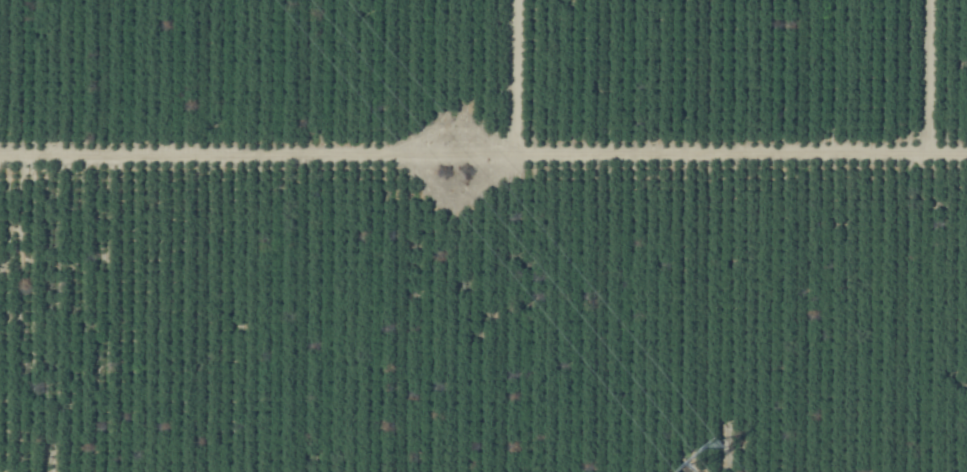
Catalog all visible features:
power tower: (714, 462)

